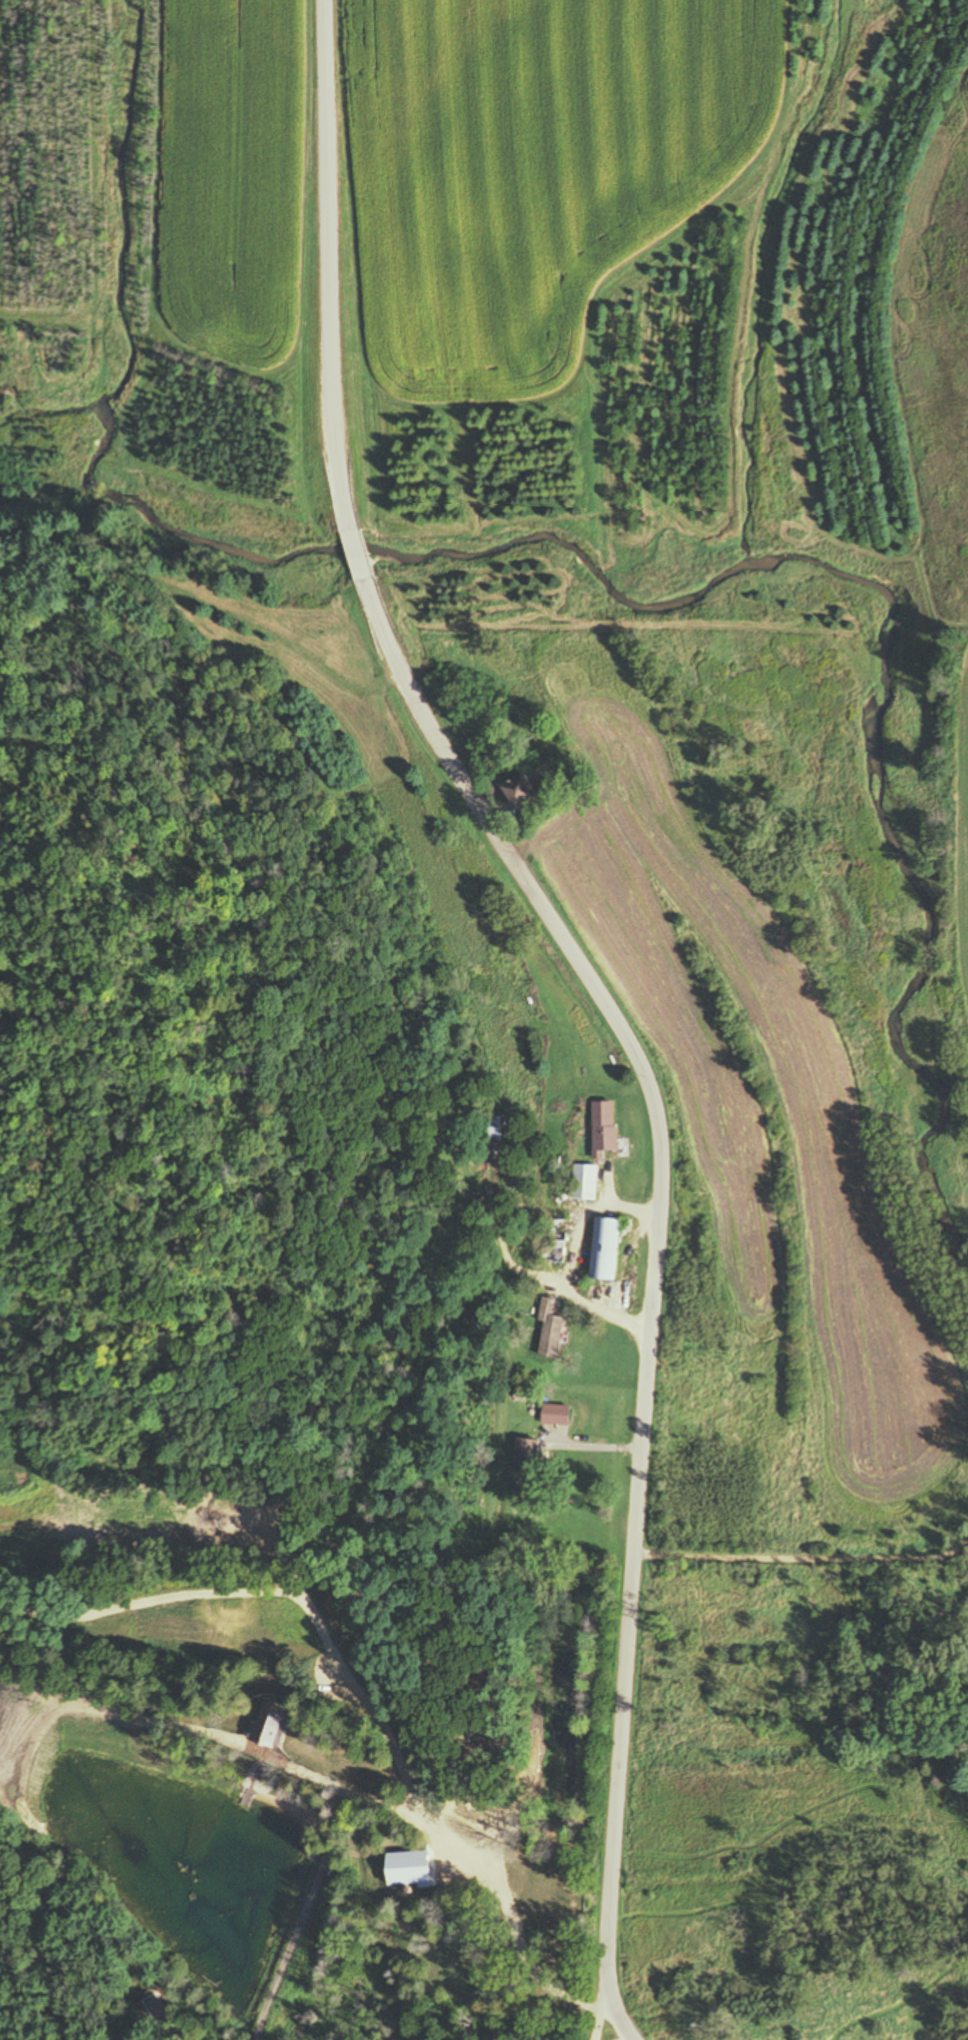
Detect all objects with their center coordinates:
road: (326, 265)
road: (357, 554)
building: (521, 791)
building: (505, 1129)
building: (604, 1129)
building: (585, 1182)
building: (554, 1240)
building: (605, 1248)
road: (653, 1273)
building: (549, 1329)
building: (556, 1415)
road: (801, 1557)
building: (465, 1832)
building: (514, 1871)
dam: (288, 1939)
building: (468, 1955)
road: (598, 2017)

